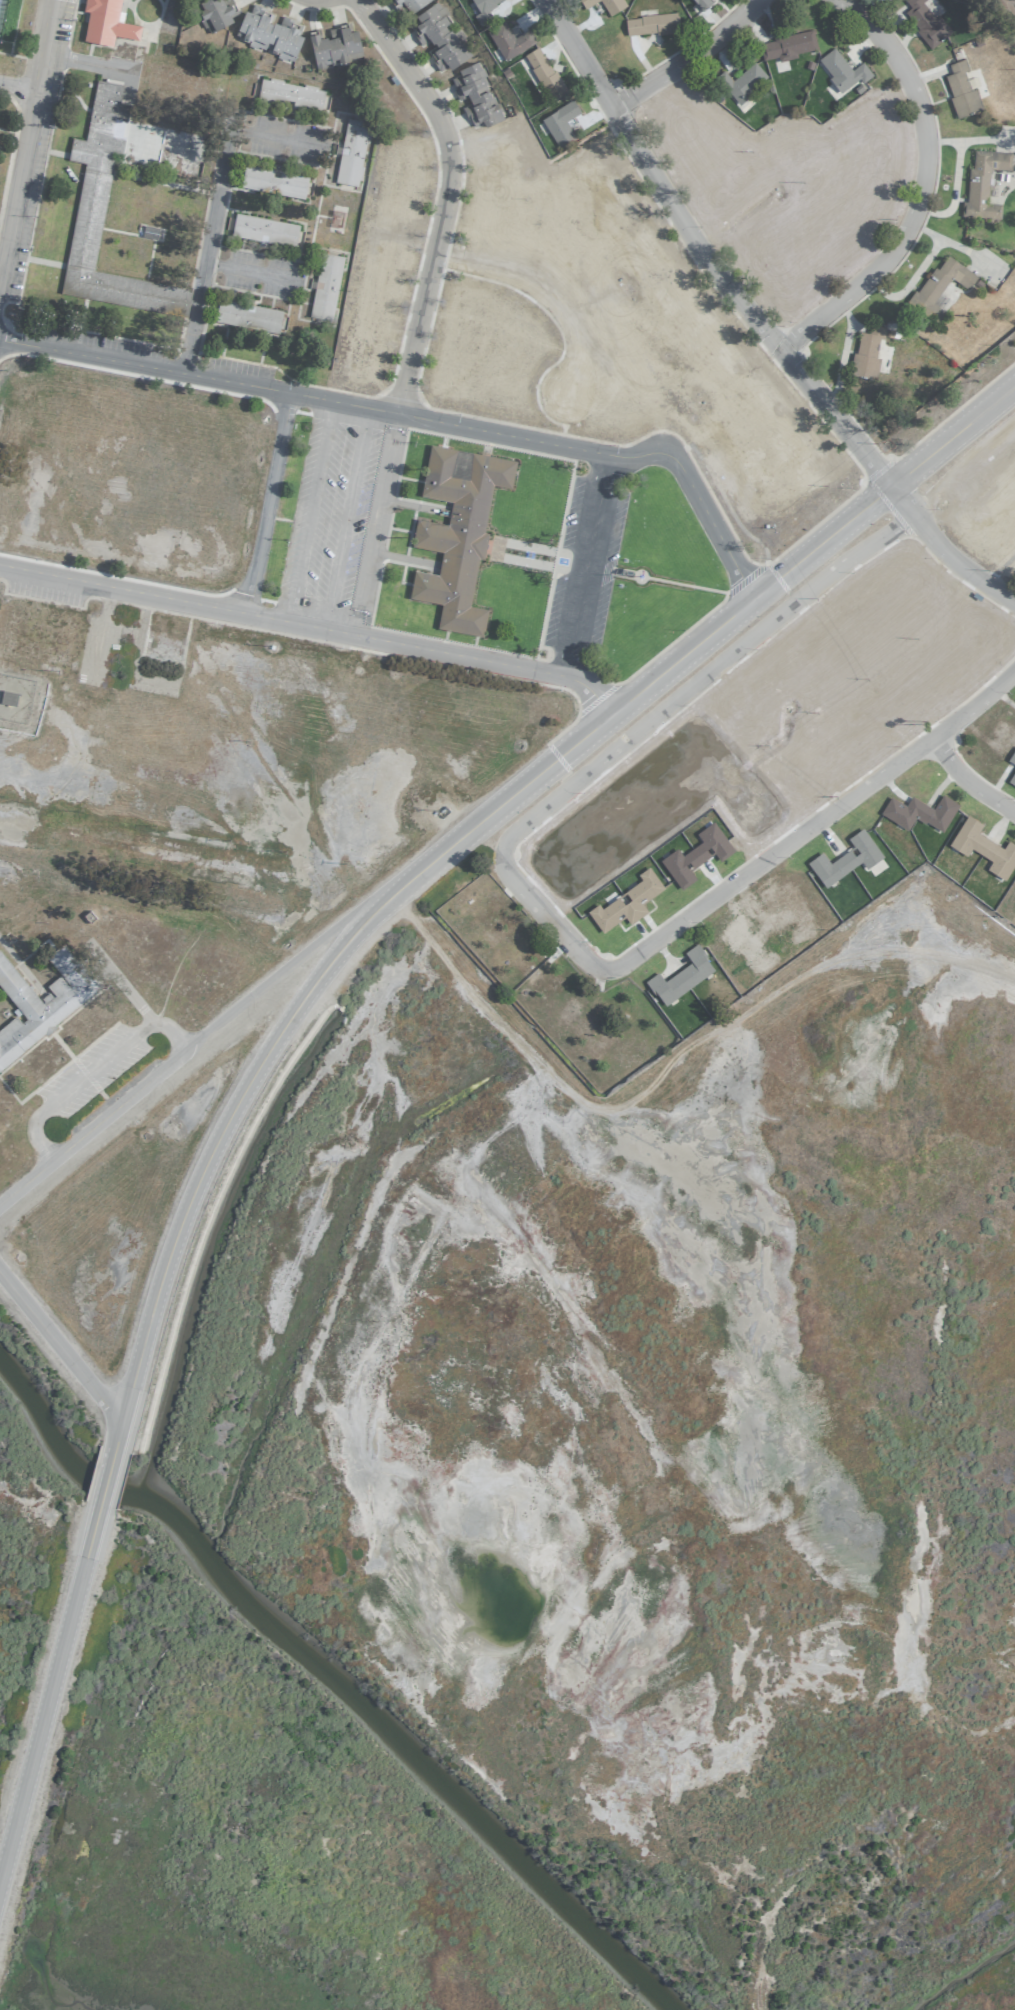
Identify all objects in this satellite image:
building: (586, 2)
building: (701, 3)
building: (409, 4)
building: (612, 5)
building: (482, 10)
building: (215, 14)
building: (105, 22)
building: (925, 23)
building: (650, 24)
building: (268, 33)
building: (439, 37)
building: (508, 40)
building: (334, 46)
building: (784, 48)
road: (685, 59)
building: (840, 72)
building: (543, 73)
building: (741, 84)
road: (18, 88)
building: (960, 90)
building: (289, 94)
building: (475, 95)
building: (694, 116)
building: (876, 123)
building: (559, 124)
road: (27, 137)
building: (351, 152)
building: (871, 180)
building: (272, 181)
building: (982, 183)
road: (216, 184)
building: (704, 185)
road: (913, 188)
road: (443, 196)
building: (87, 217)
building: (263, 230)
building: (751, 236)
building: (845, 239)
building: (790, 273)
building: (325, 286)
building: (938, 286)
road: (541, 293)
road: (193, 313)
building: (246, 316)
road: (758, 319)
building: (866, 353)
road: (417, 417)
road: (265, 504)
road: (308, 512)
road: (344, 518)
building: (456, 532)
road: (587, 565)
flagpole: (638, 577)
road: (821, 584)
building: (911, 586)
building: (851, 626)
road: (313, 627)
building: (961, 648)
building: (808, 661)
building: (746, 694)
building: (8, 697)
road: (613, 730)
building: (1004, 744)
building: (680, 753)
building: (834, 753)
road: (968, 779)
road: (506, 799)
building: (621, 800)
building: (760, 801)
building: (918, 812)
building: (769, 814)
road: (813, 825)
building: (983, 847)
road: (502, 850)
building: (567, 852)
building: (695, 855)
building: (845, 858)
building: (625, 902)
building: (791, 912)
building: (1013, 919)
building: (747, 946)
building: (680, 976)
building: (42, 1000)
airport: (507, 1005)
road: (91, 1071)
road: (203, 1167)
road: (59, 1349)
road: (115, 1435)
road: (105, 1476)
road: (48, 1689)

